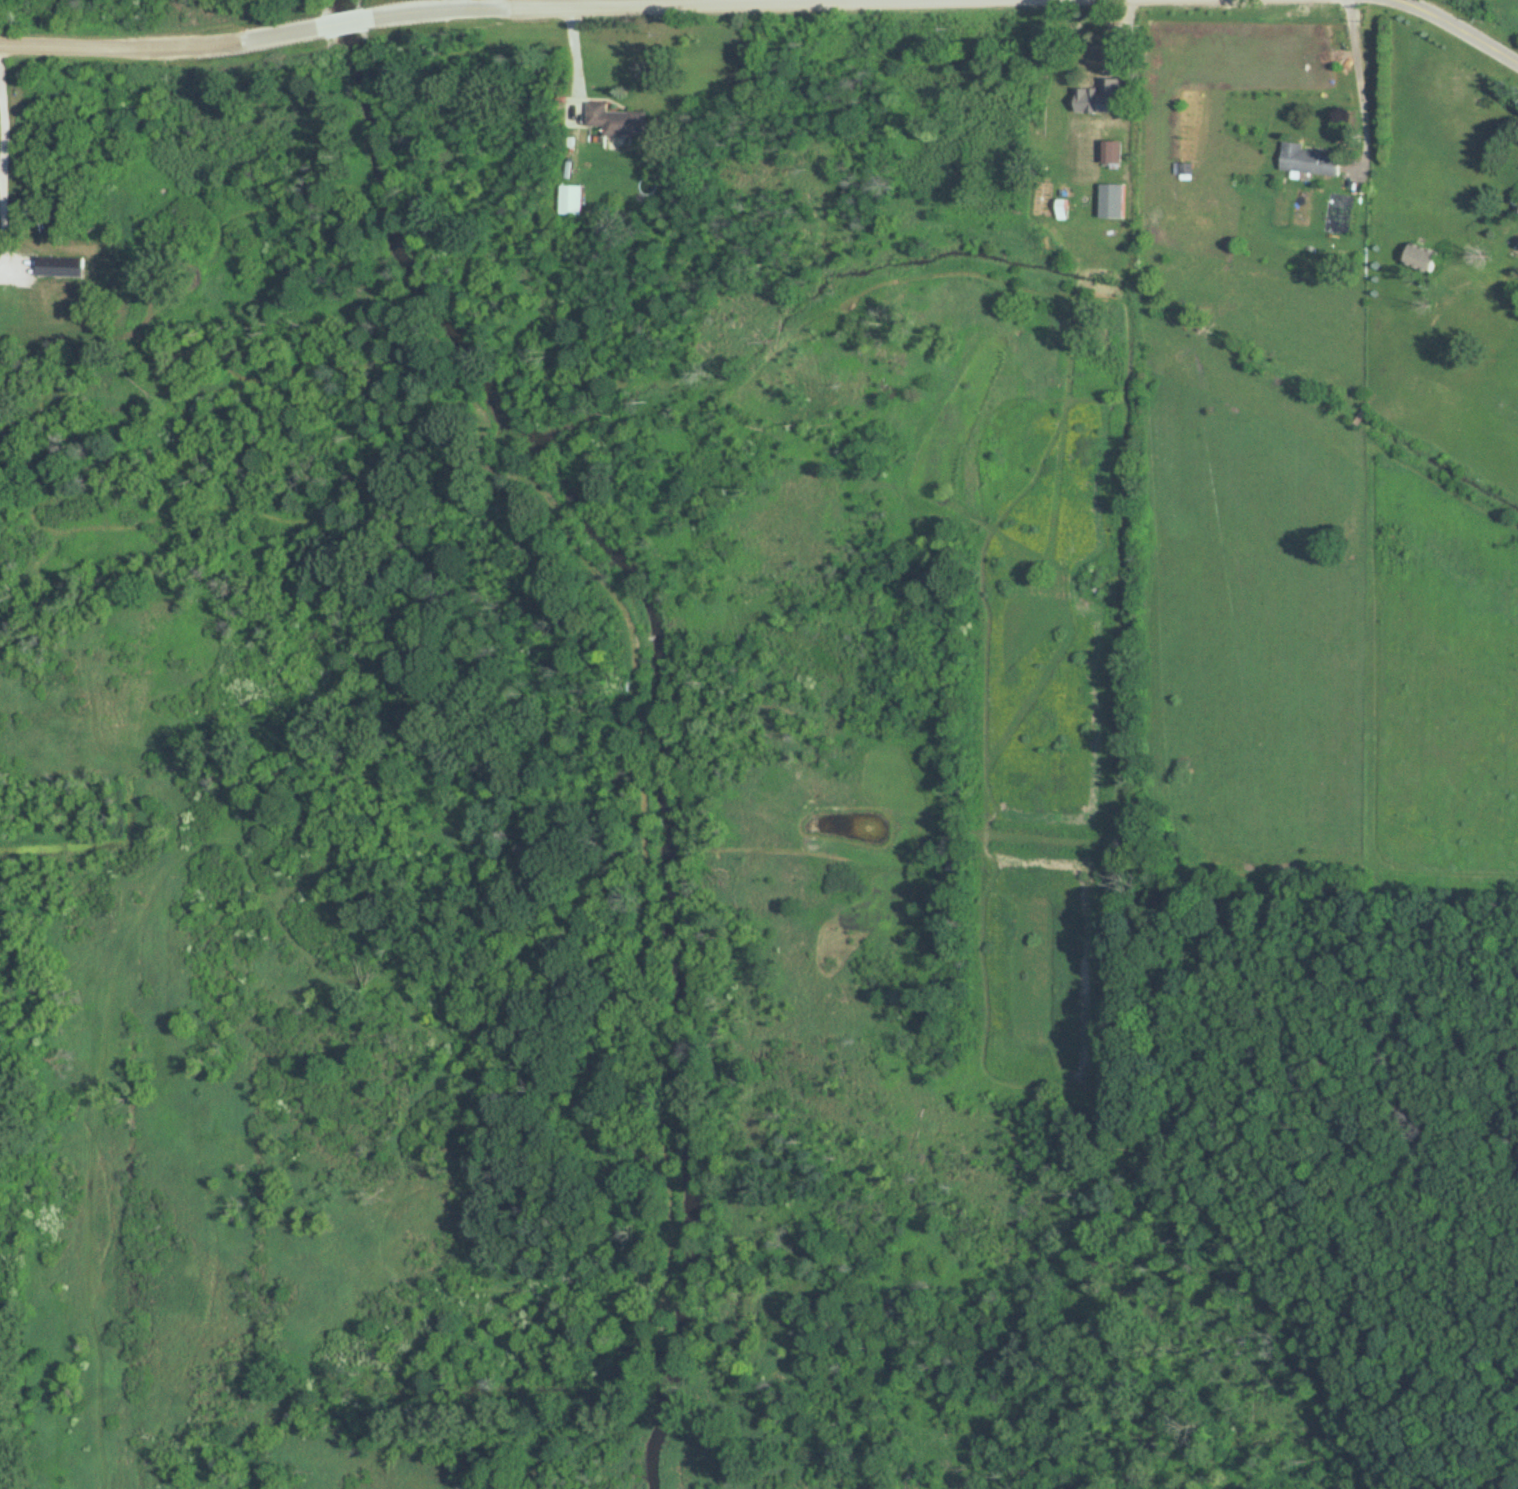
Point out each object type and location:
road: (457, 4)
road: (570, 5)
road: (348, 15)
road: (1467, 29)
road: (161, 46)
building: (1090, 55)
road: (1362, 84)
building: (616, 120)
building: (1110, 152)
building: (1309, 160)
building: (1184, 169)
road: (2, 192)
building: (570, 200)
building: (1112, 201)
building: (1061, 209)
building: (1419, 257)
building: (49, 261)

